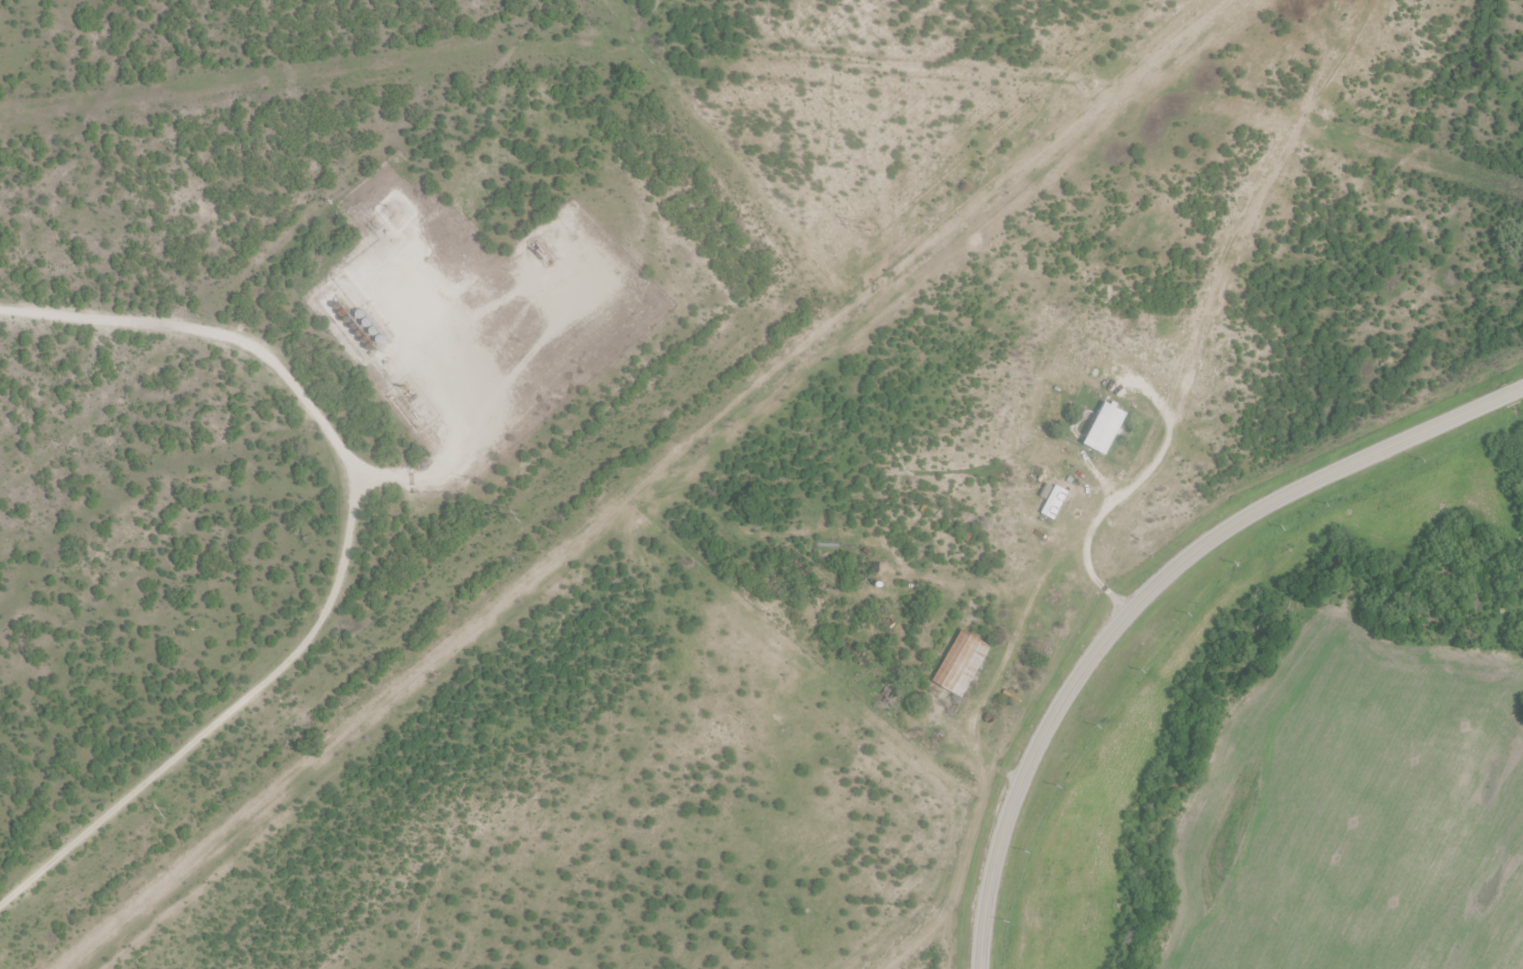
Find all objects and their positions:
power tower: (865, 227)
road: (297, 391)
building: (1106, 430)
road: (454, 448)
road: (1121, 493)
building: (1053, 504)
power tower: (522, 515)
road: (1153, 592)
building: (961, 665)
road: (136, 787)
power tower: (168, 811)

